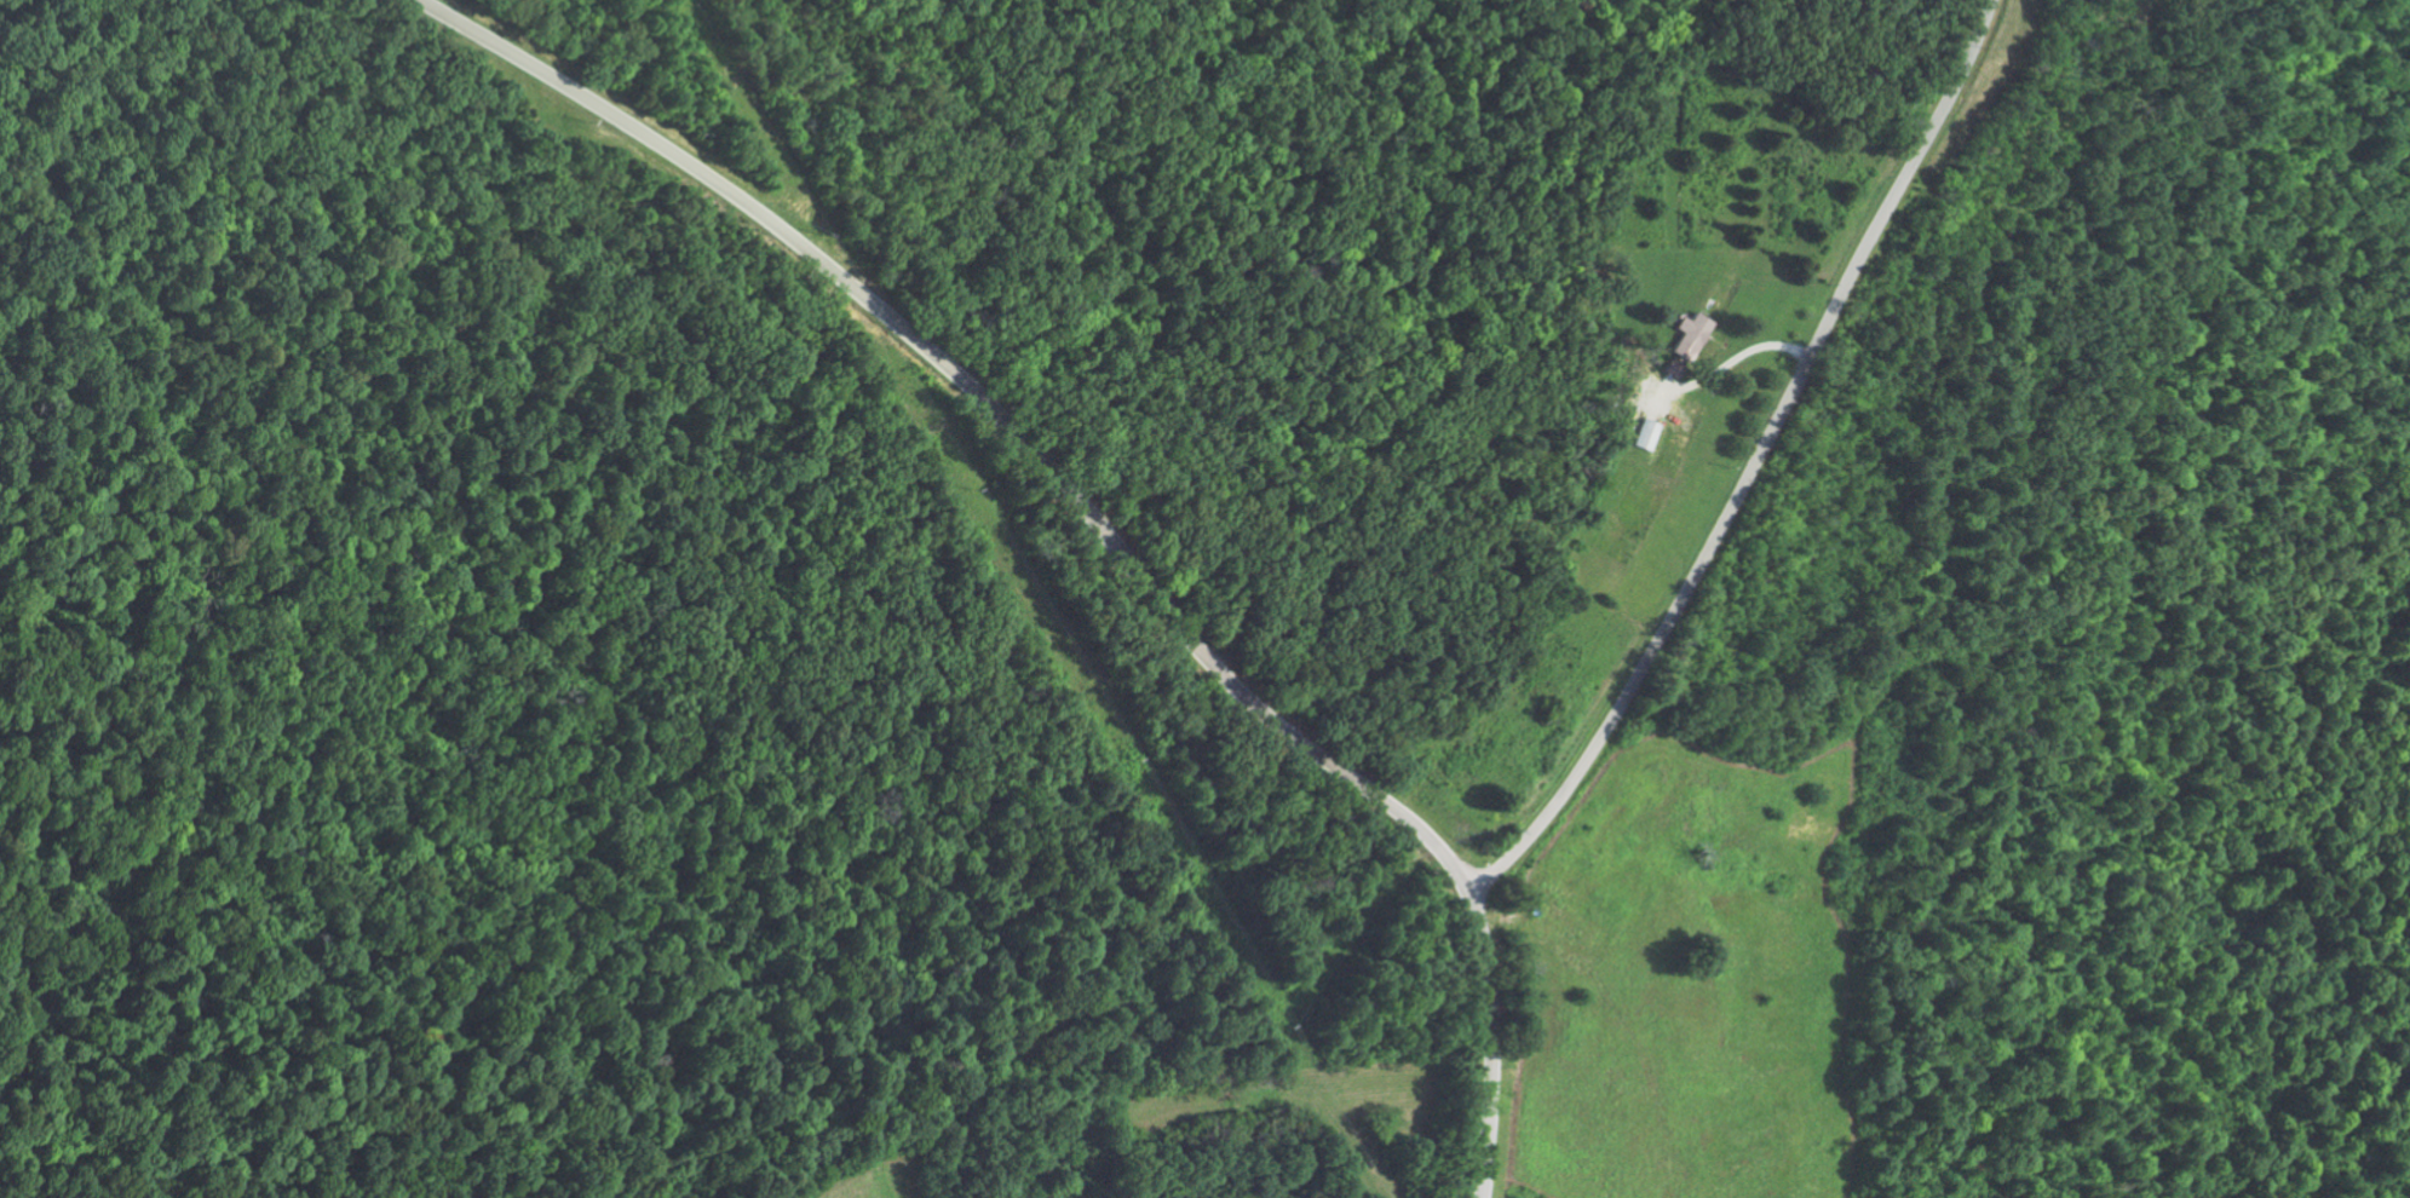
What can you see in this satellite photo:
building: (1695, 335)
building: (1678, 368)
building: (1650, 433)
road: (1752, 462)
road: (1088, 512)

